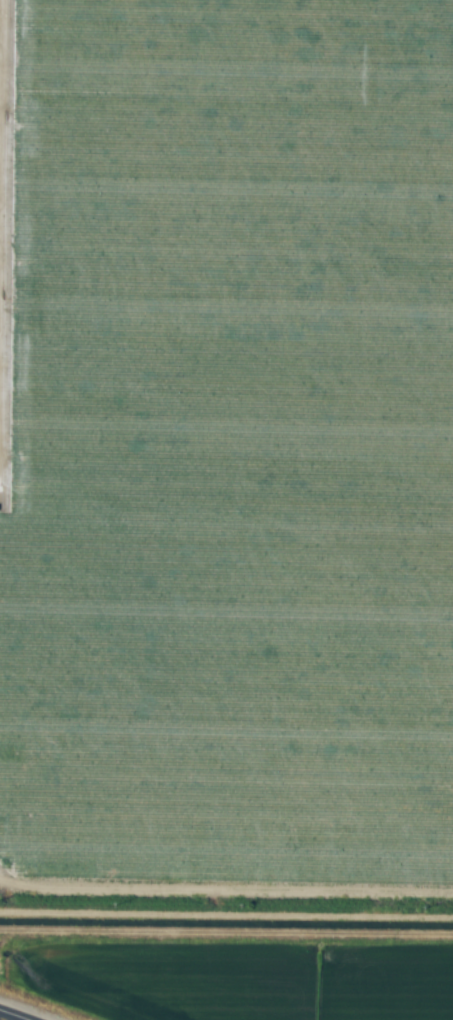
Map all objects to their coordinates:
railway: (226, 886)
road: (1, 1019)

